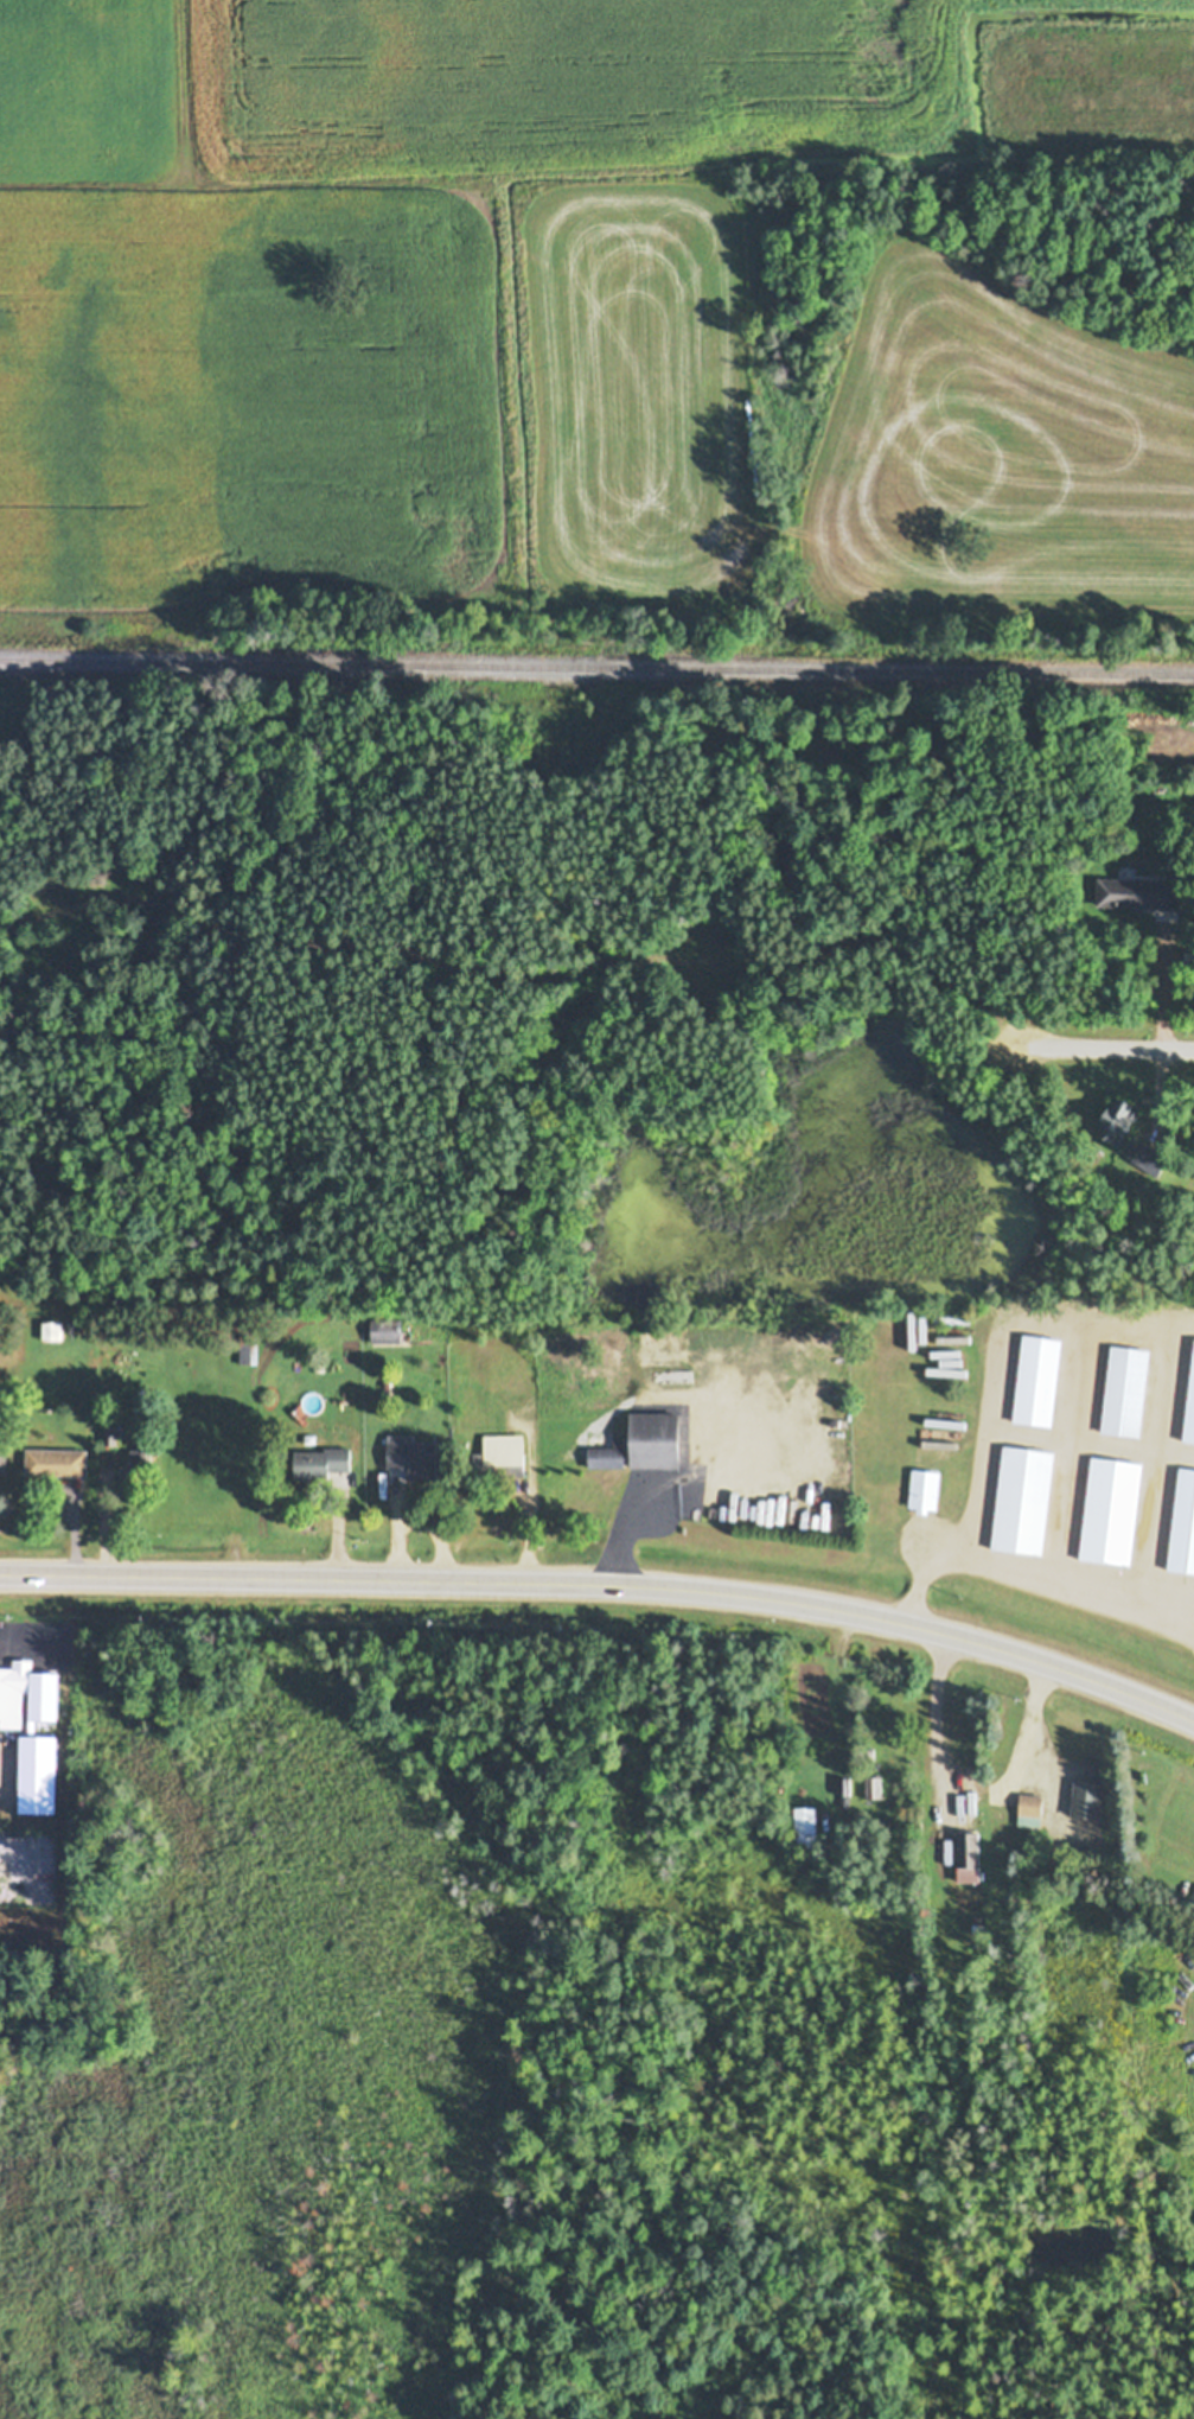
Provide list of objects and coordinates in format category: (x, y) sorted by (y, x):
railway: (596, 667)
building: (1138, 895)
road: (1160, 980)
road: (1104, 1046)
building: (388, 1330)
building: (662, 1349)
building: (248, 1350)
building: (1040, 1381)
road: (987, 1386)
building: (1128, 1390)
building: (474, 1403)
building: (1190, 1419)
building: (658, 1440)
building: (611, 1456)
building: (417, 1458)
building: (502, 1458)
building: (5, 1460)
building: (324, 1462)
building: (59, 1463)
building: (927, 1491)
building: (1026, 1501)
building: (1115, 1511)
building: (1185, 1524)
road: (606, 1583)
building: (30, 1683)
building: (1091, 1793)
building: (1033, 1810)
building: (971, 1857)

